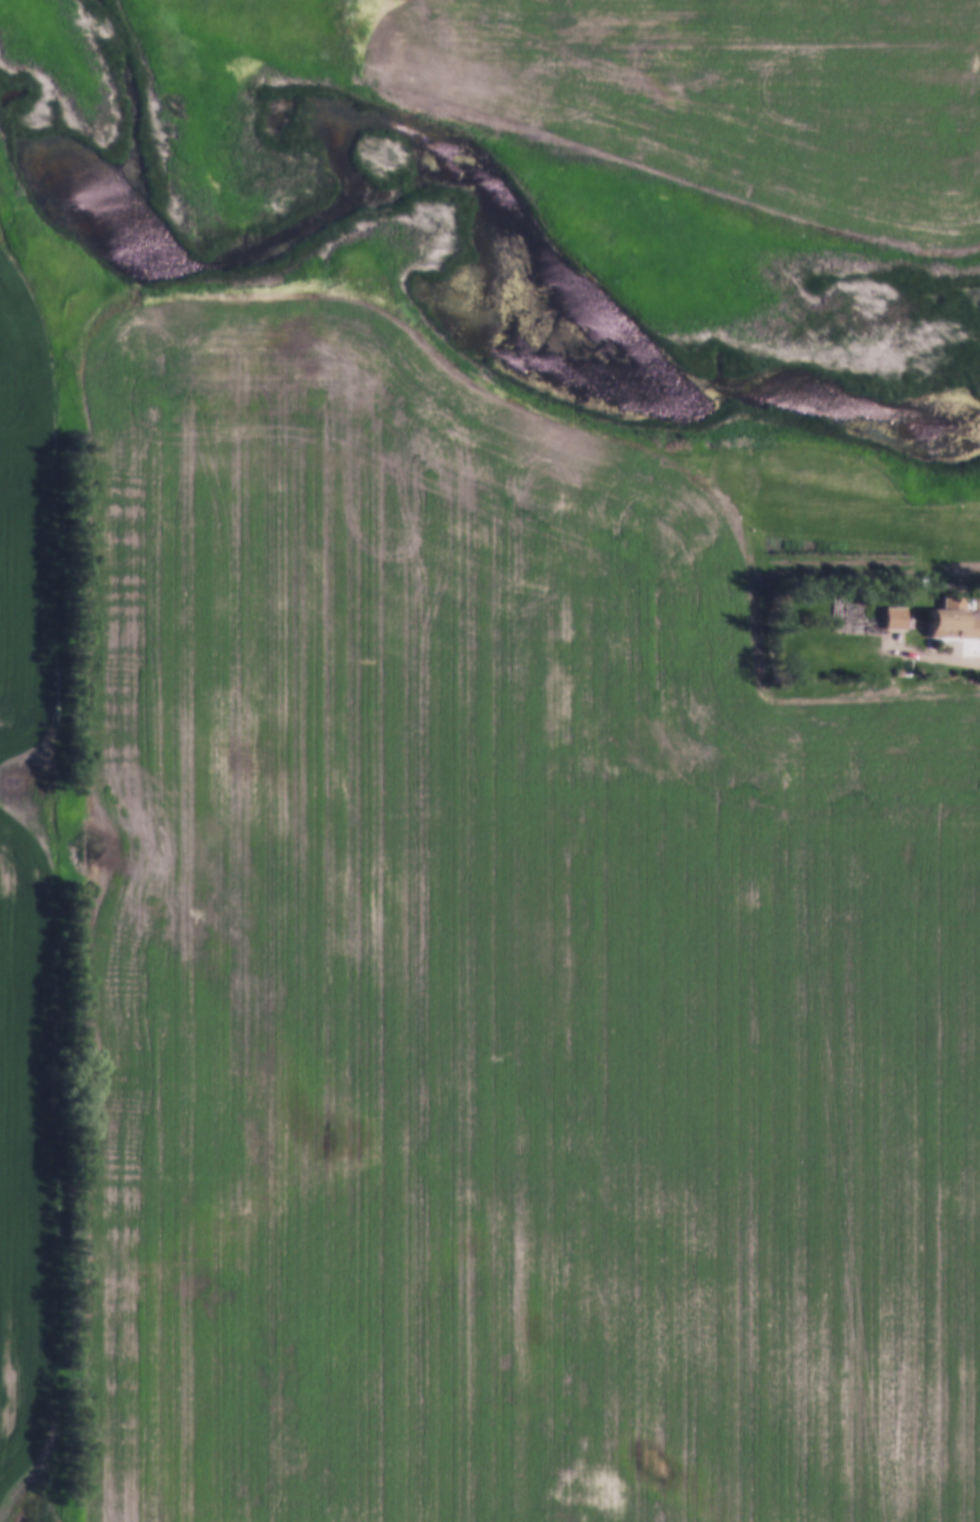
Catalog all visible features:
building: (898, 619)
building: (958, 627)
road: (929, 649)

